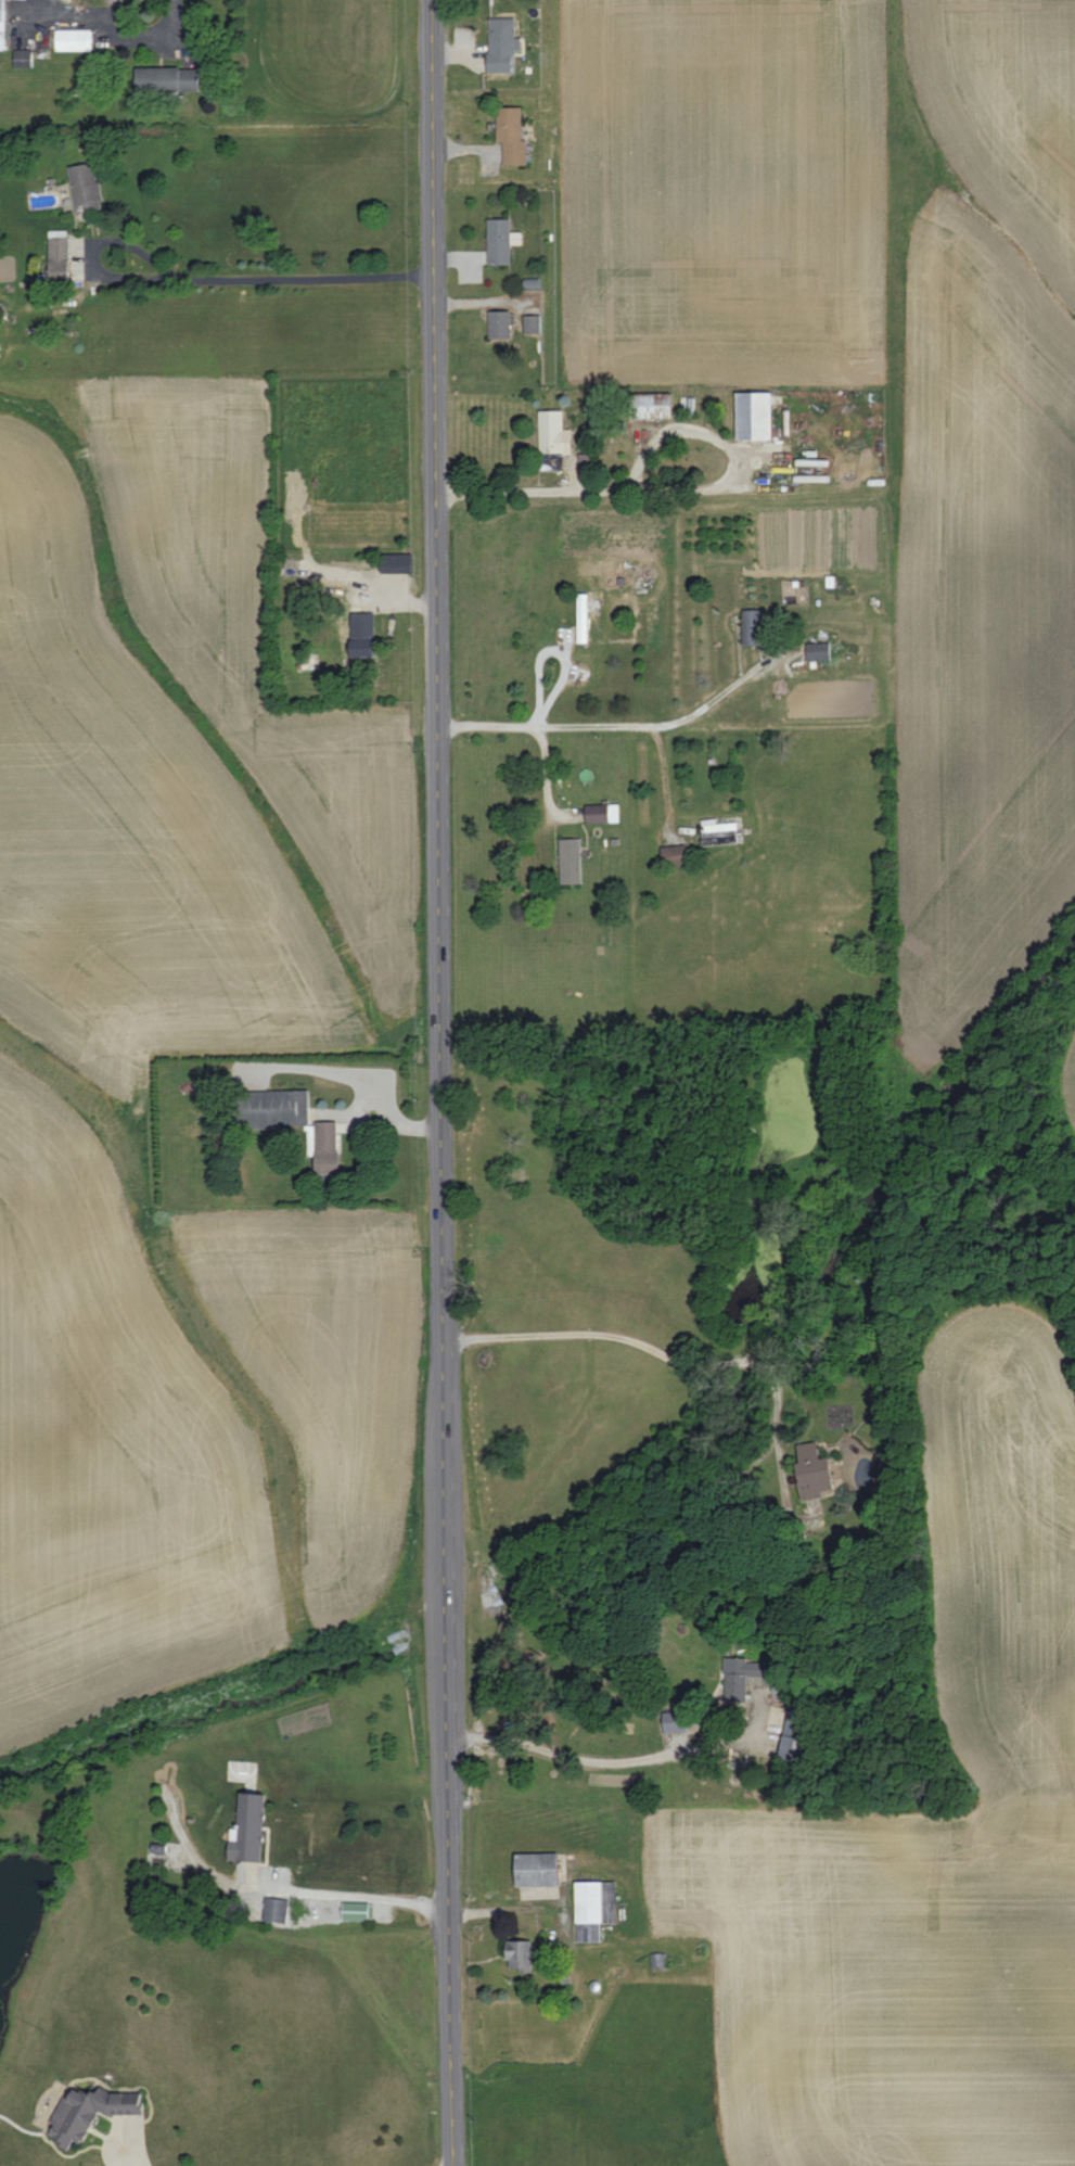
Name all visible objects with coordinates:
road: (108, 27)
building: (72, 39)
building: (499, 44)
building: (21, 58)
building: (164, 79)
building: (509, 136)
building: (82, 187)
building: (496, 241)
building: (55, 258)
road: (200, 281)
building: (496, 324)
building: (529, 324)
building: (649, 406)
building: (751, 416)
building: (551, 433)
road: (673, 488)
building: (393, 563)
building: (583, 614)
building: (750, 626)
building: (359, 635)
building: (816, 651)
road: (716, 697)
road: (549, 726)
road: (543, 774)
building: (600, 813)
building: (669, 852)
building: (567, 859)
road: (359, 1080)
road: (443, 1083)
building: (268, 1108)
building: (323, 1147)
building: (809, 1471)
building: (739, 1677)
building: (675, 1721)
road: (599, 1761)
building: (248, 1829)
building: (539, 1869)
building: (593, 1908)
building: (276, 1909)
building: (356, 1910)
building: (522, 1953)
building: (658, 1960)
building: (90, 2112)
road: (131, 2148)

